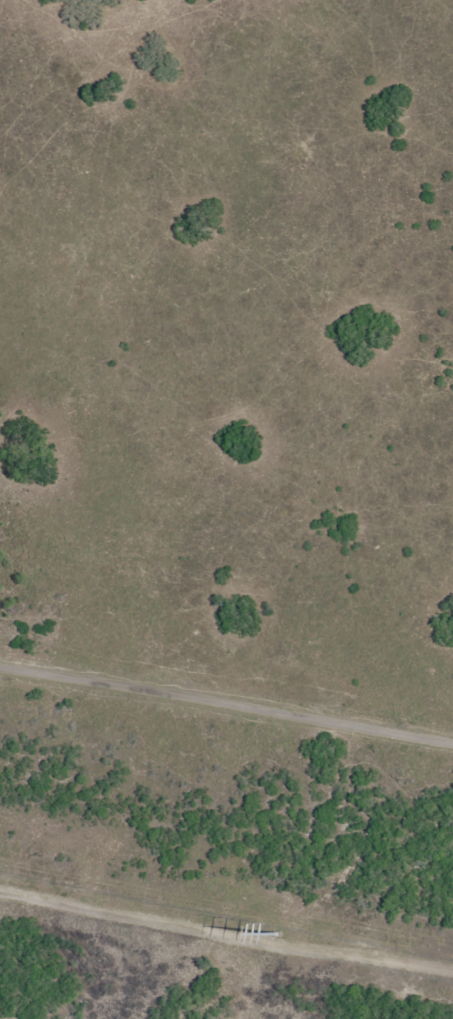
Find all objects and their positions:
road: (226, 699)
power tower: (283, 936)

